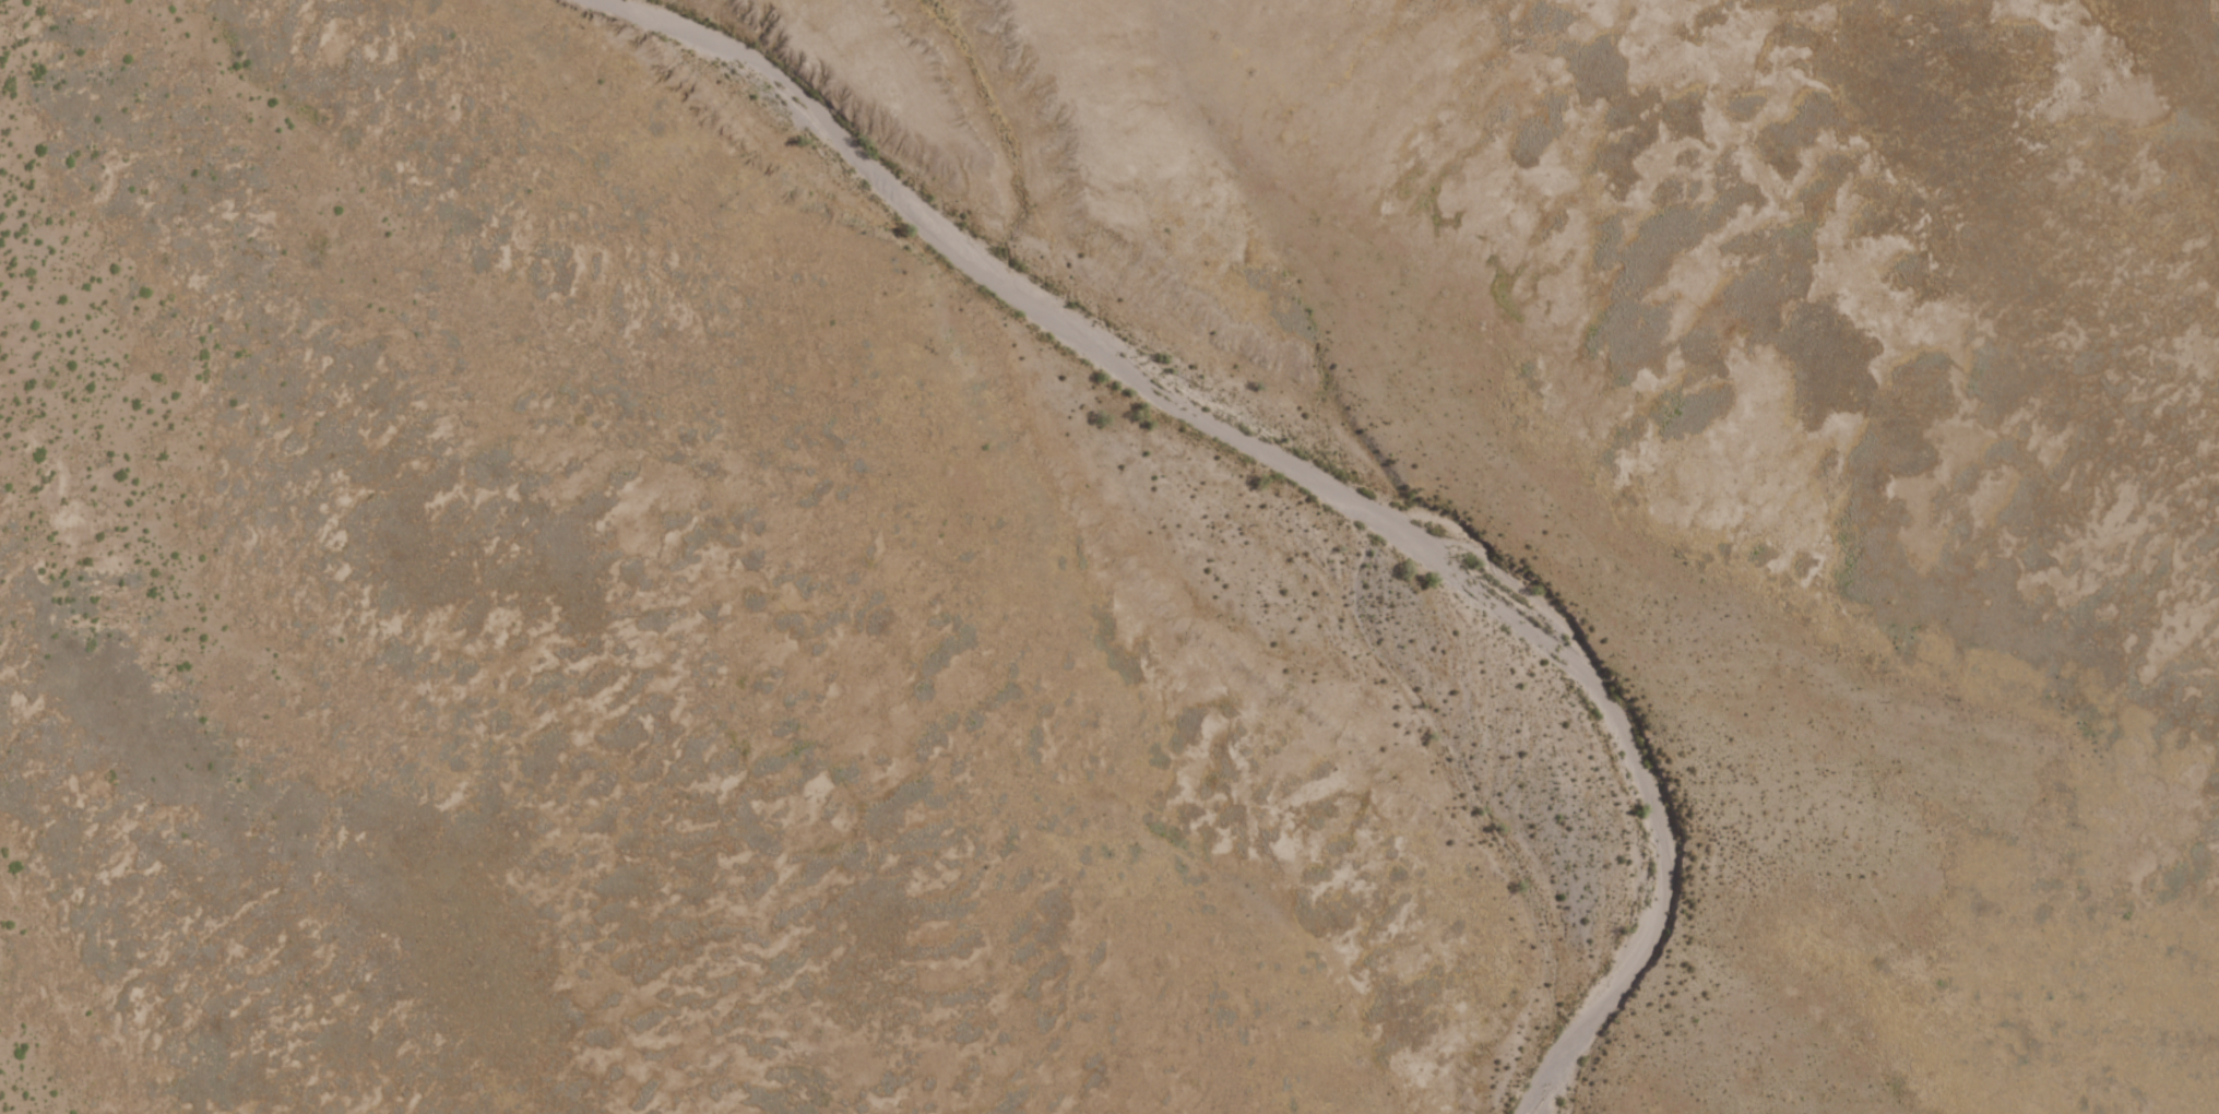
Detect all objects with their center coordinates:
river: (1286, 441)

